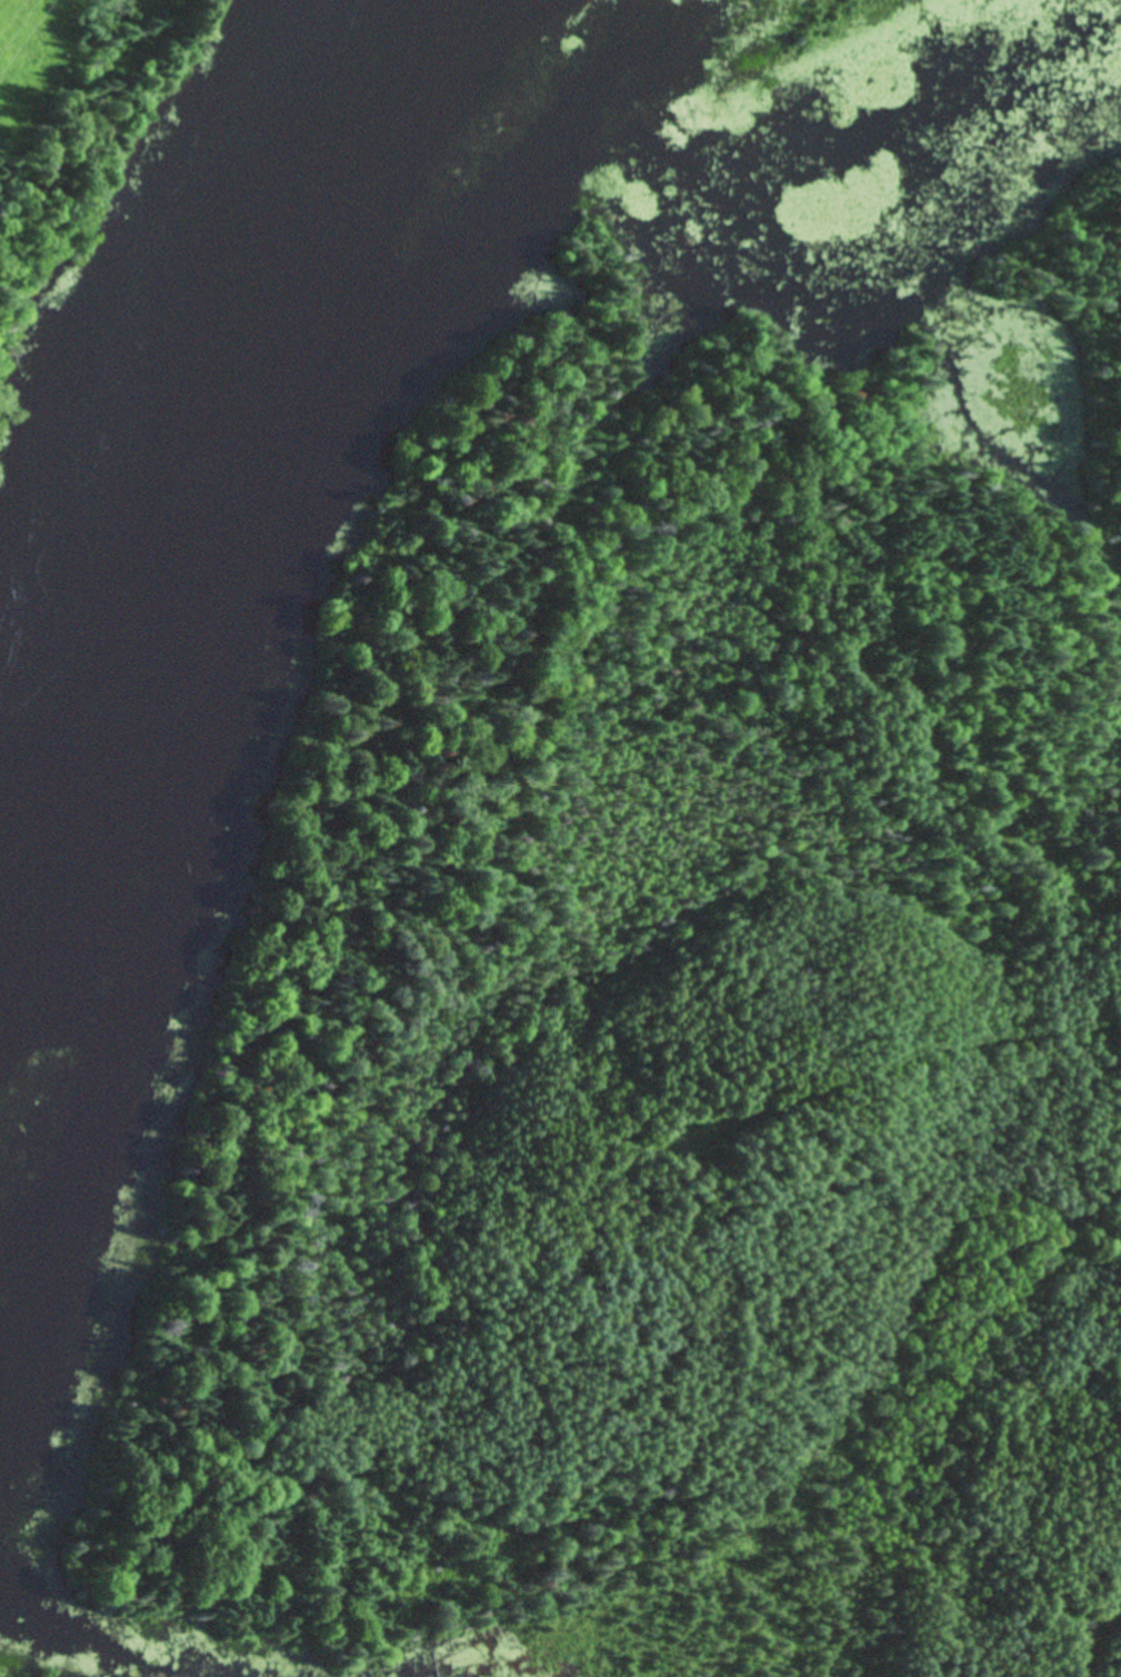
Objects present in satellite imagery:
river: (194, 432)

